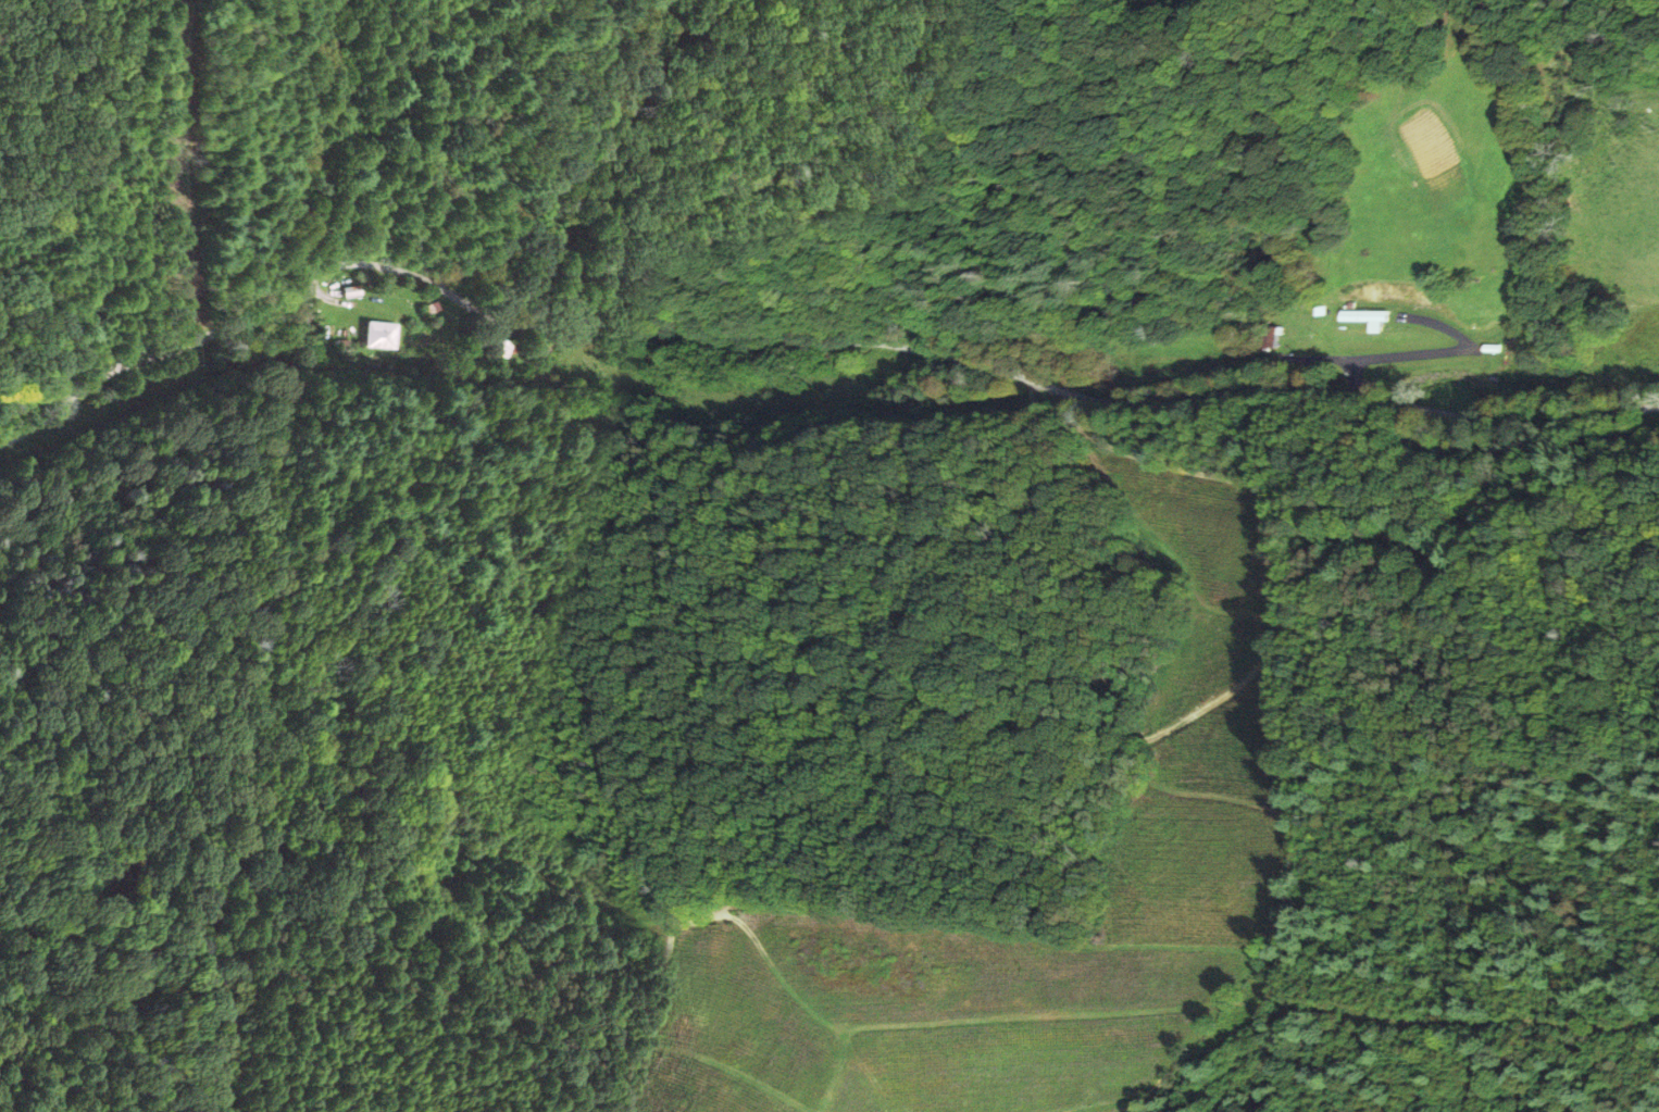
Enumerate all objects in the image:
road: (201, 172)
road: (1074, 211)
road: (804, 346)
road: (1049, 733)
road: (559, 891)

